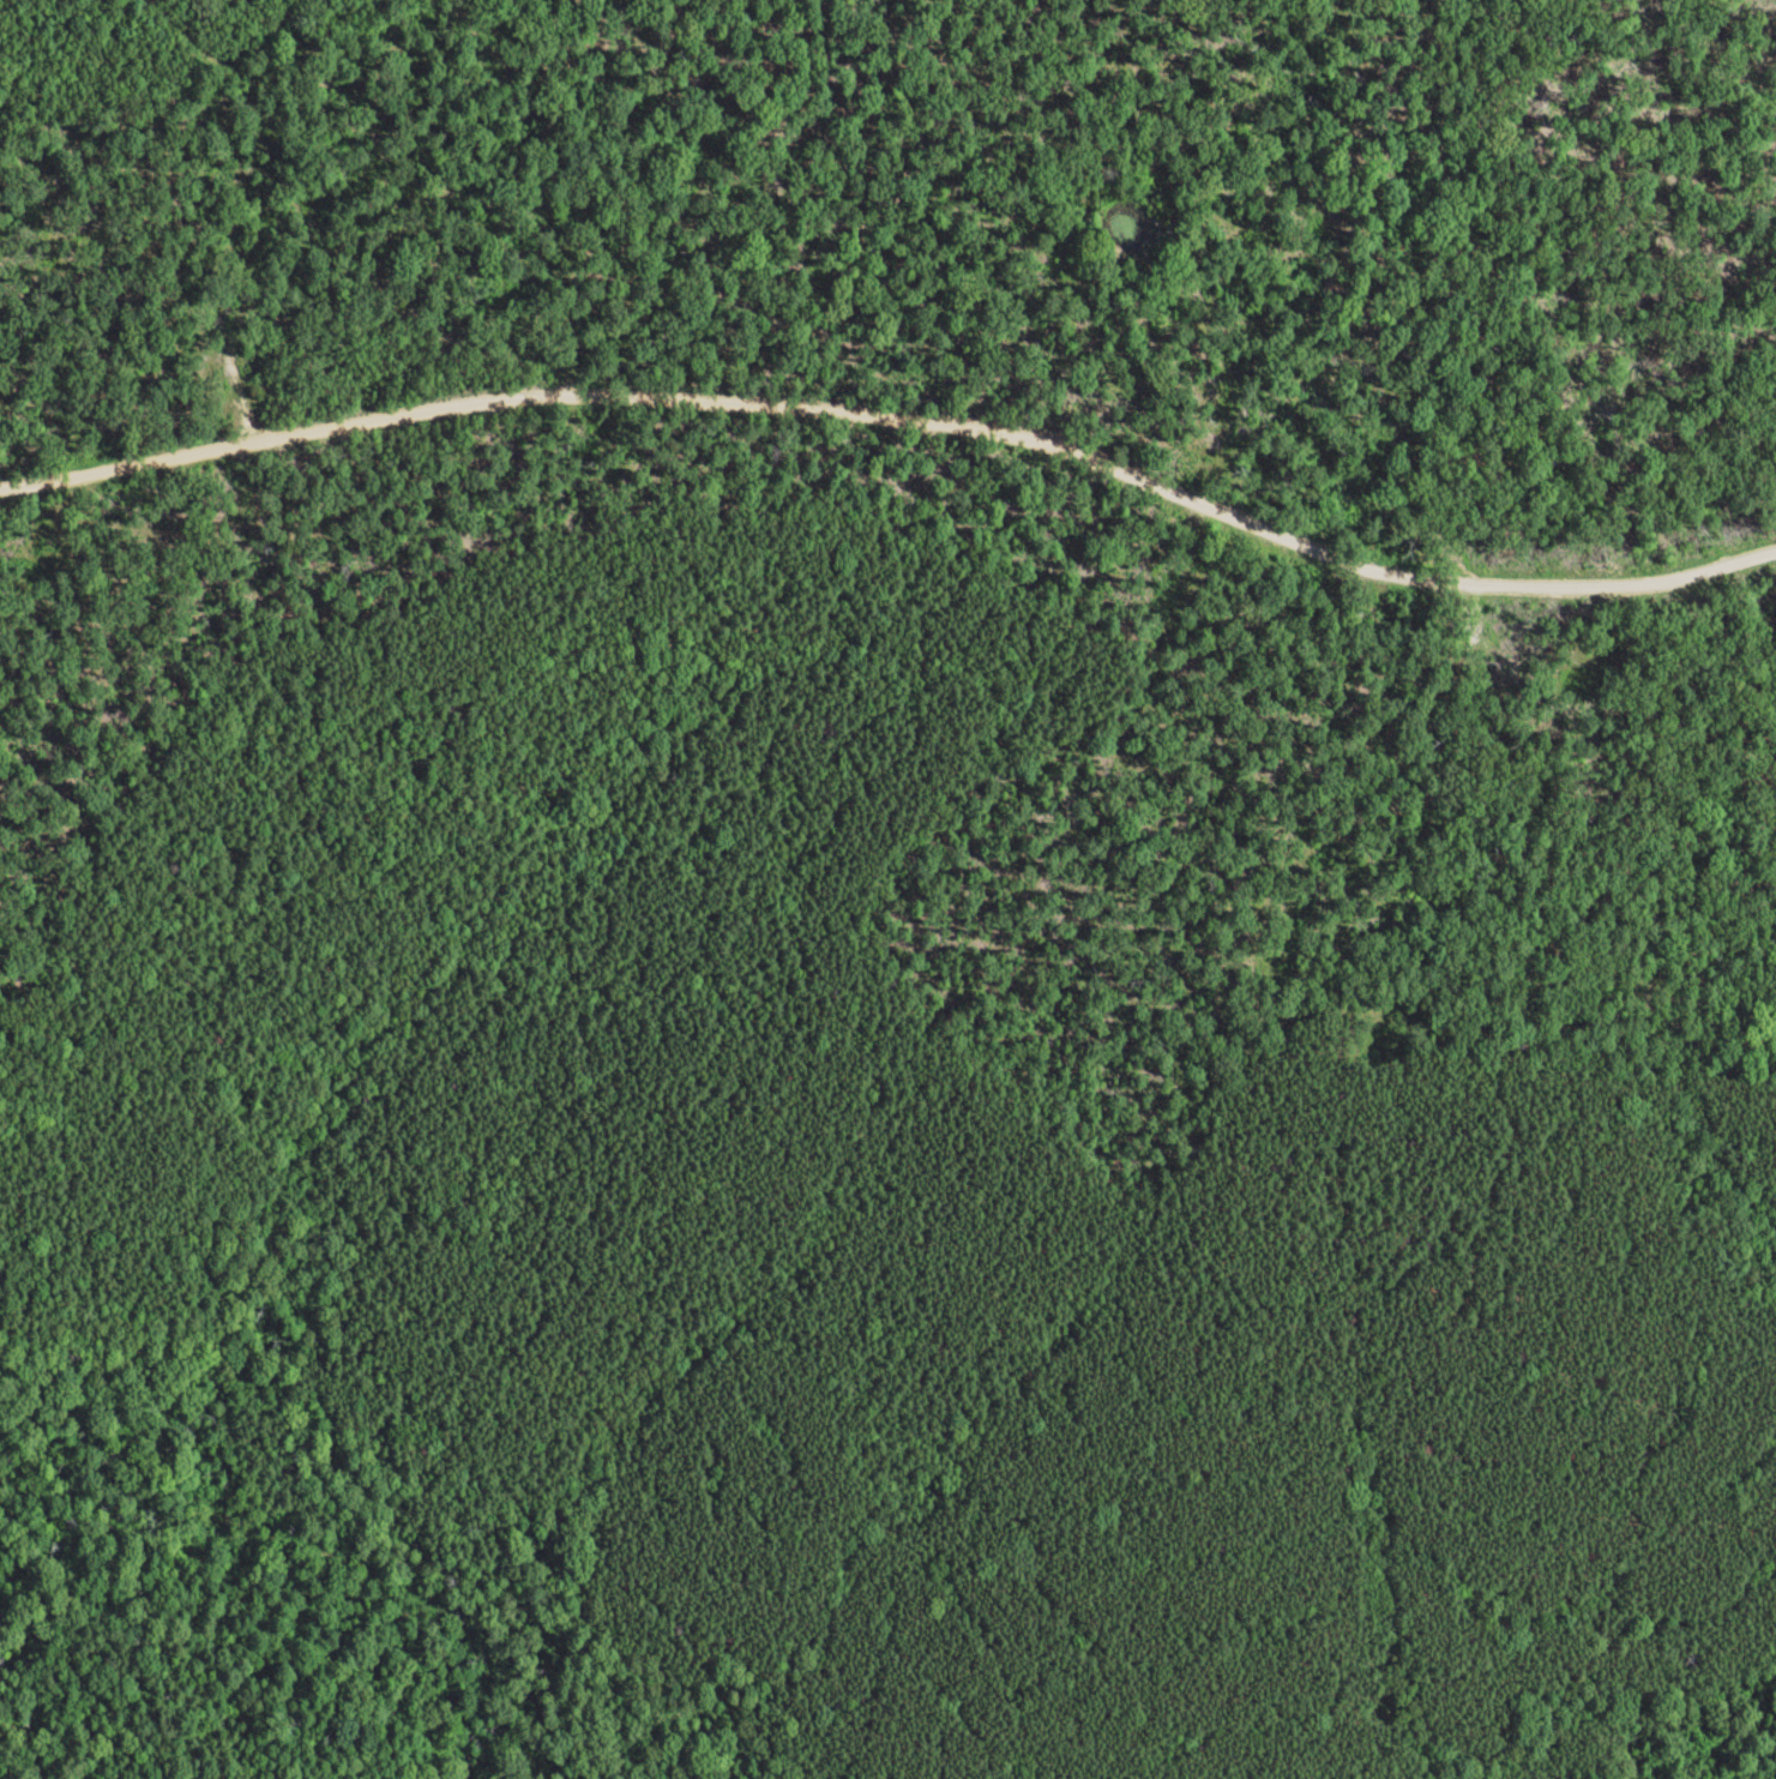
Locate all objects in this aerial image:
road: (777, 407)
road: (1664, 511)

